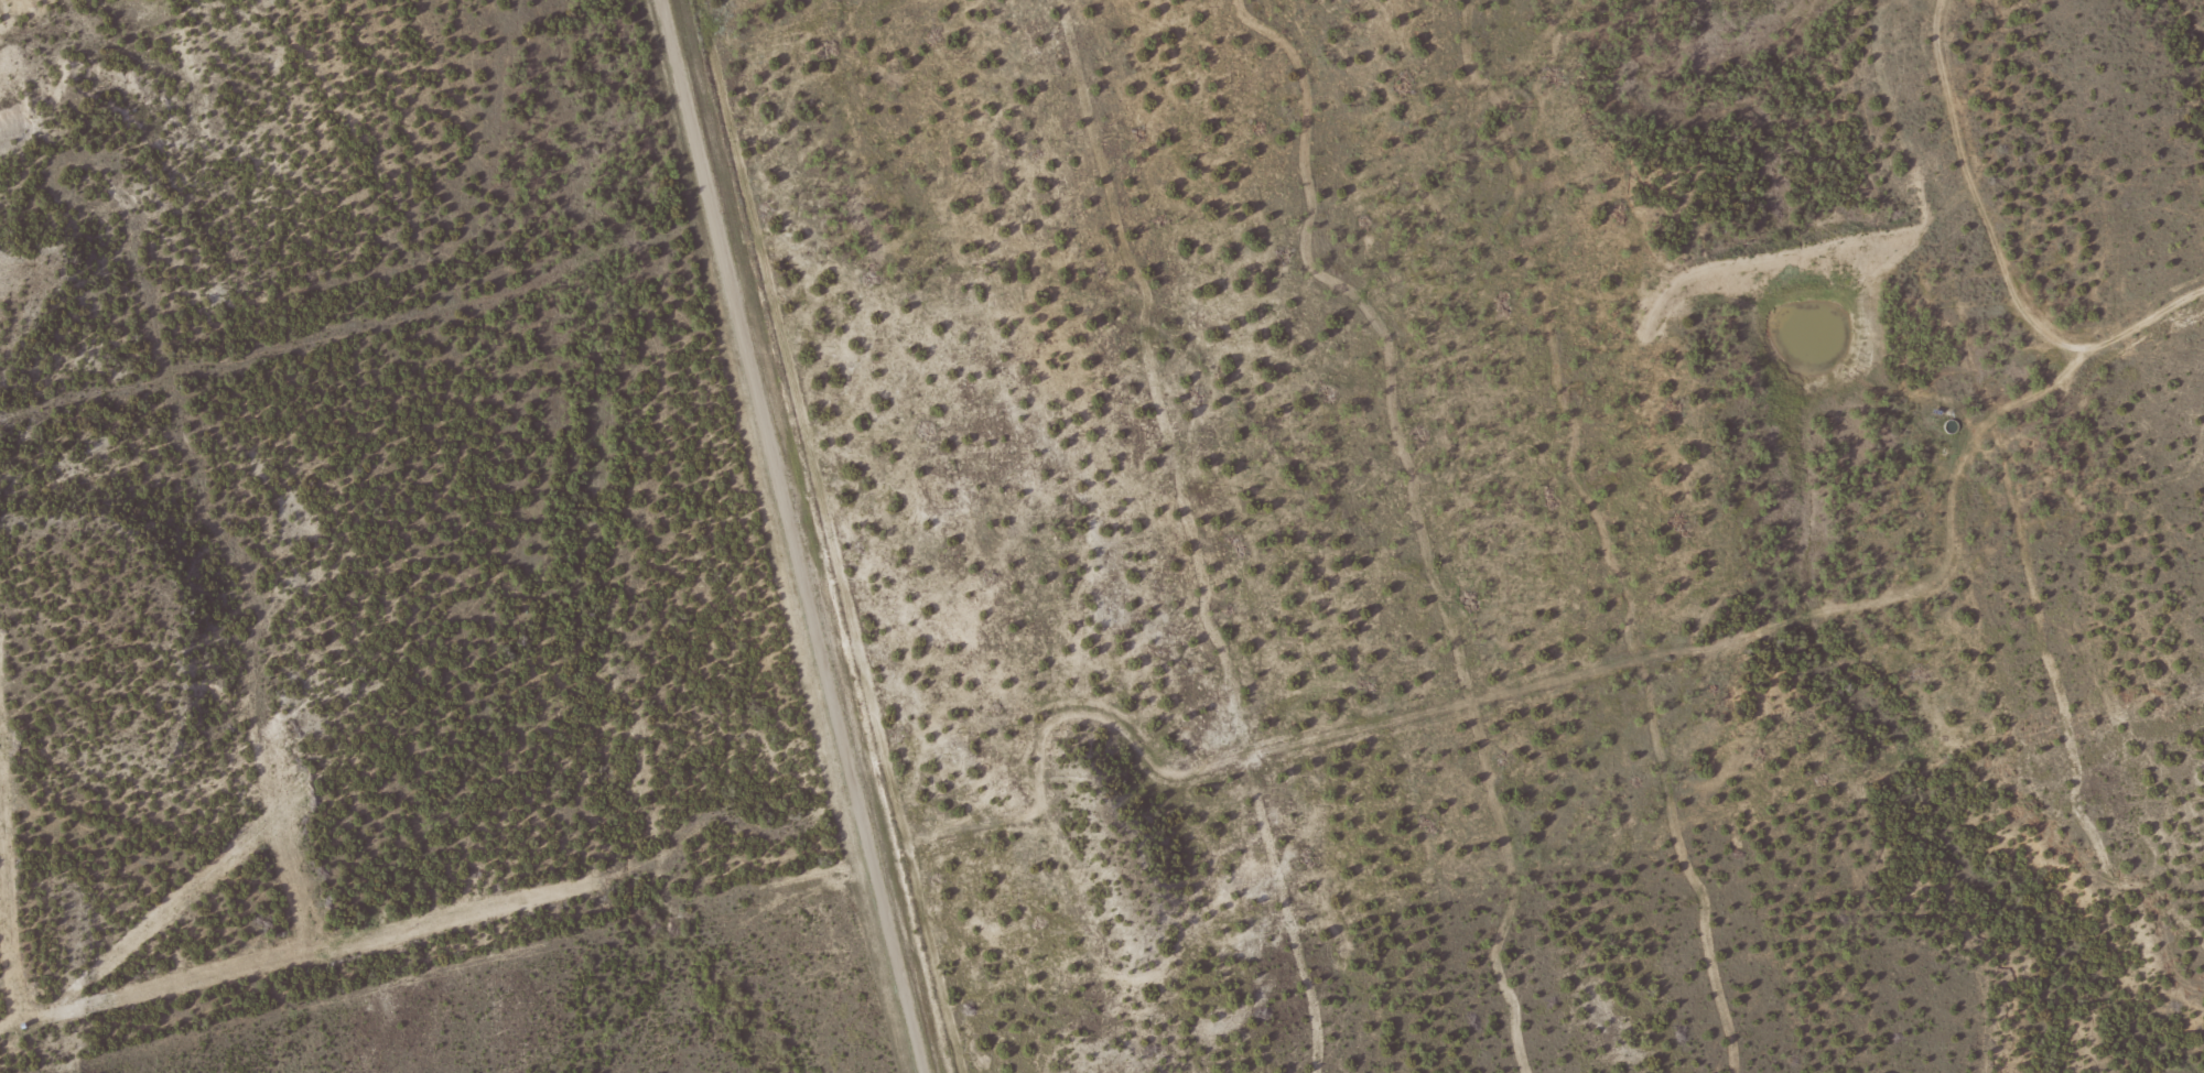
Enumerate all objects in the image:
road: (2056, 322)
road: (793, 535)

